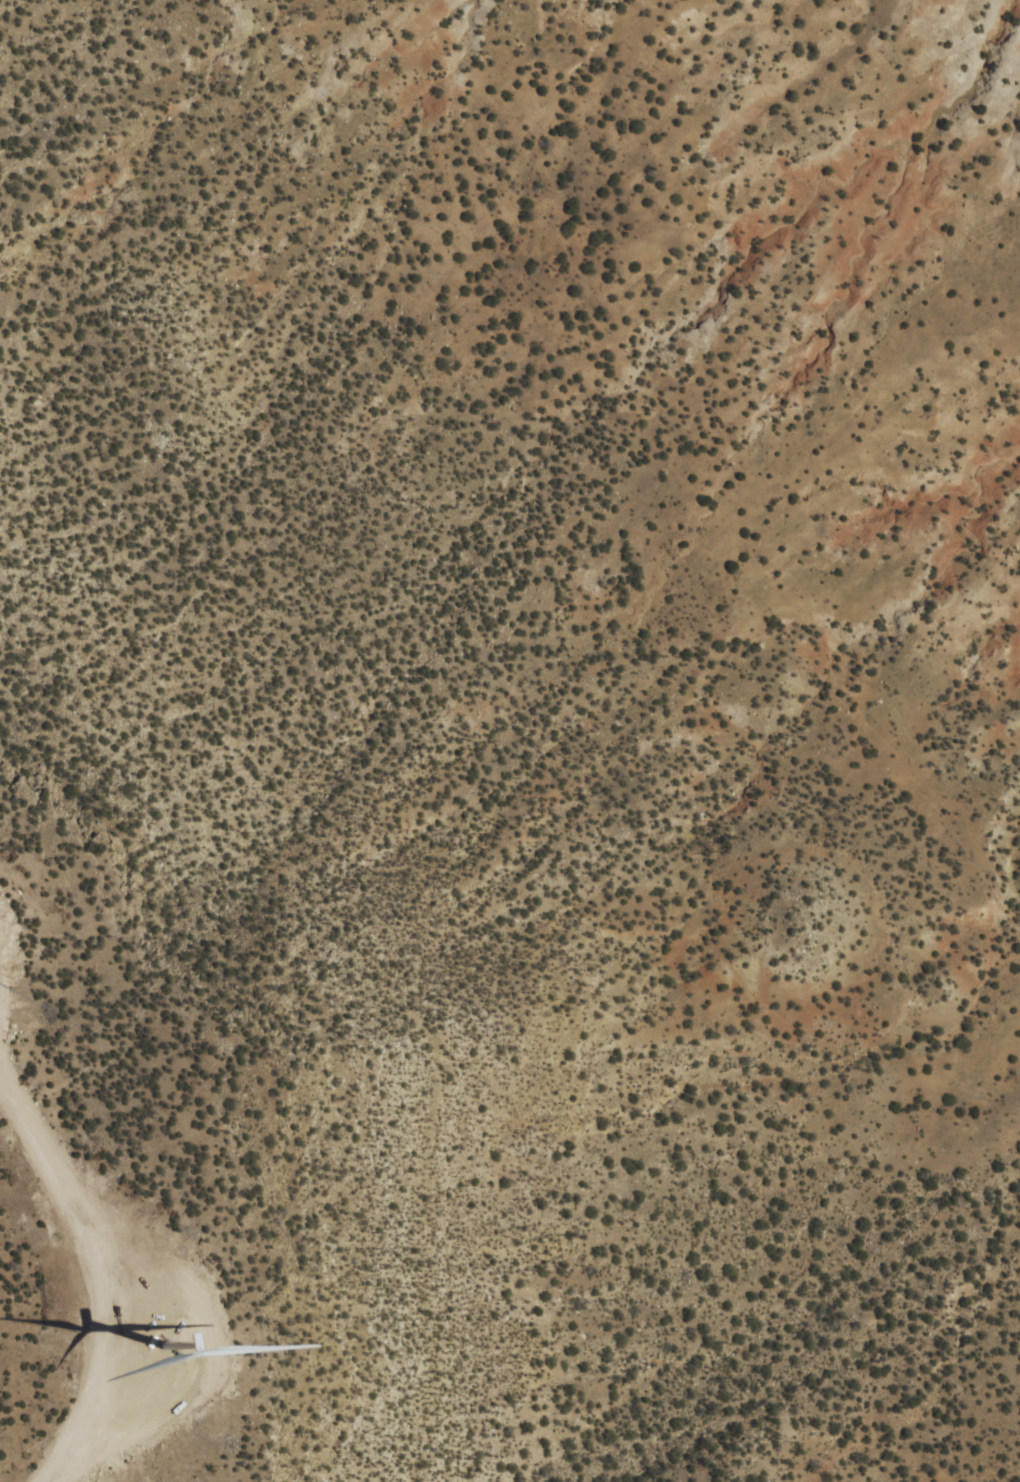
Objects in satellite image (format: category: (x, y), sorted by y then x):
wind turbine: (175, 1353)

